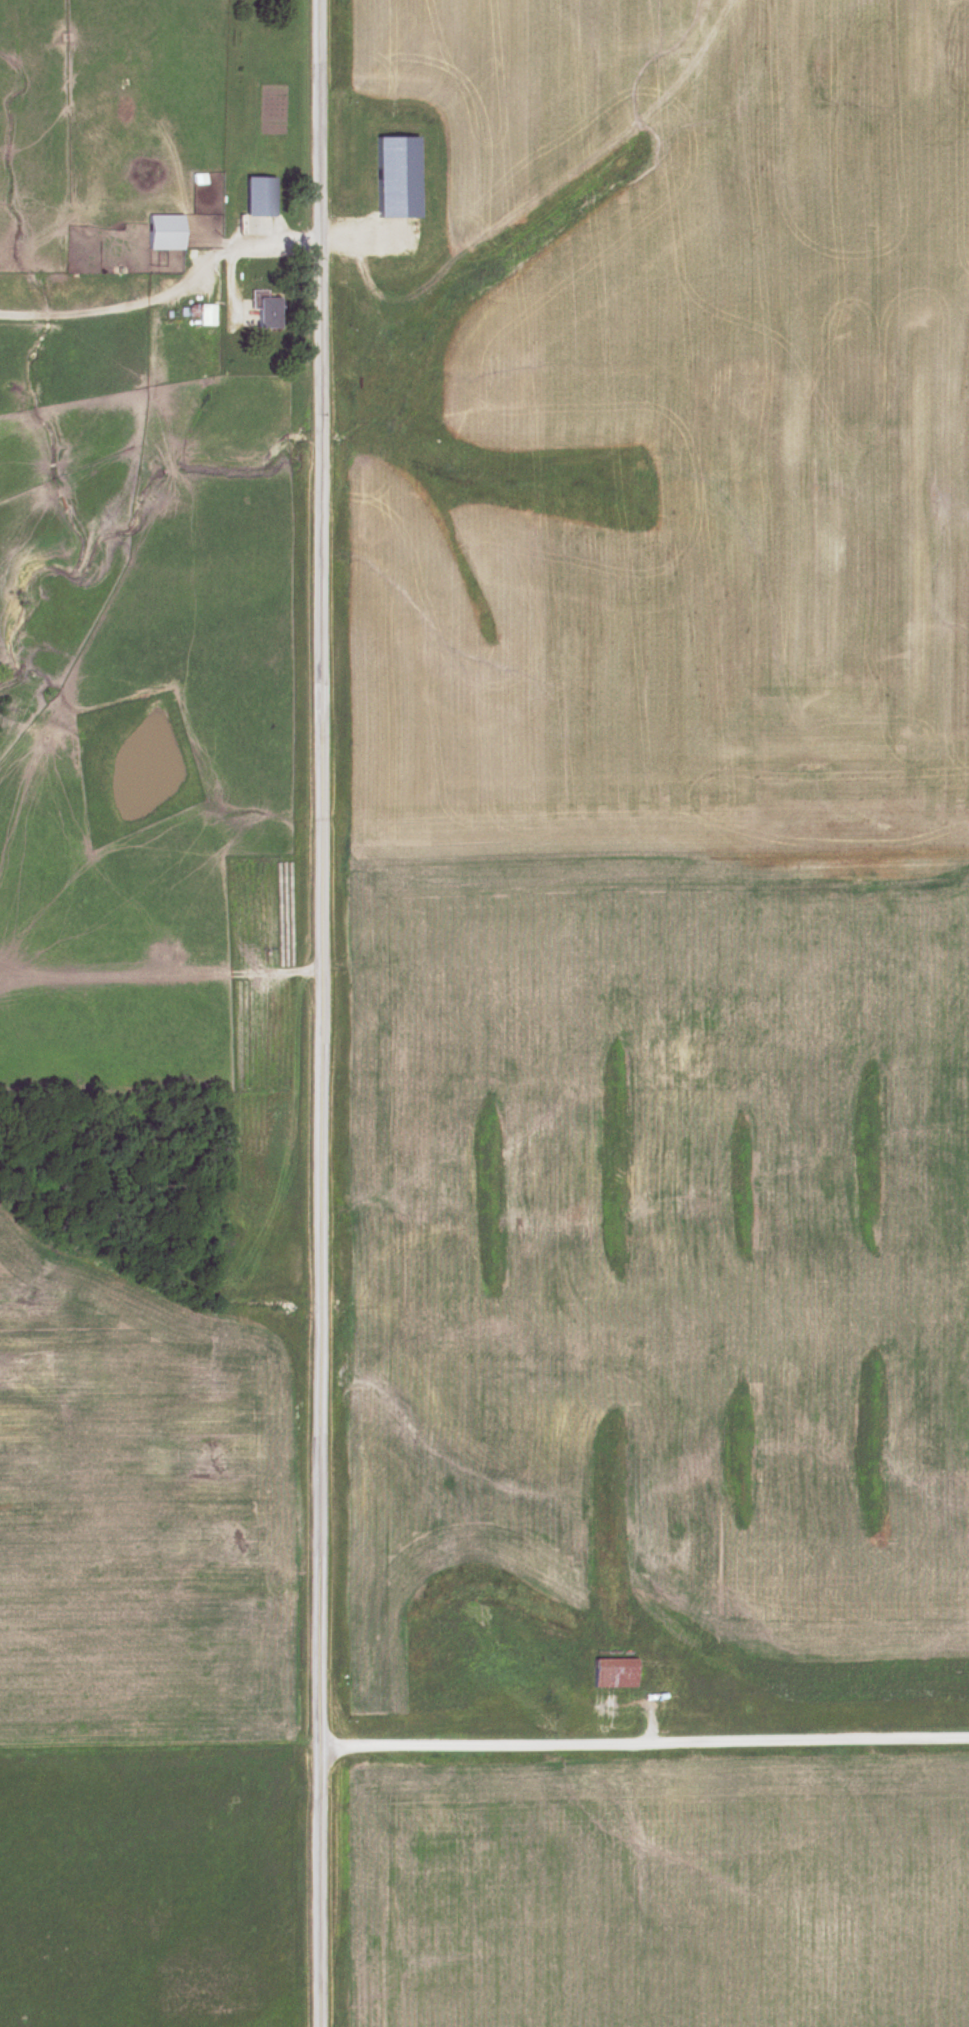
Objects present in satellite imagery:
building: (255, 224)
building: (164, 232)
building: (267, 313)
road: (123, 346)
road: (321, 875)
building: (614, 1672)
road: (644, 1744)
road: (322, 1888)

